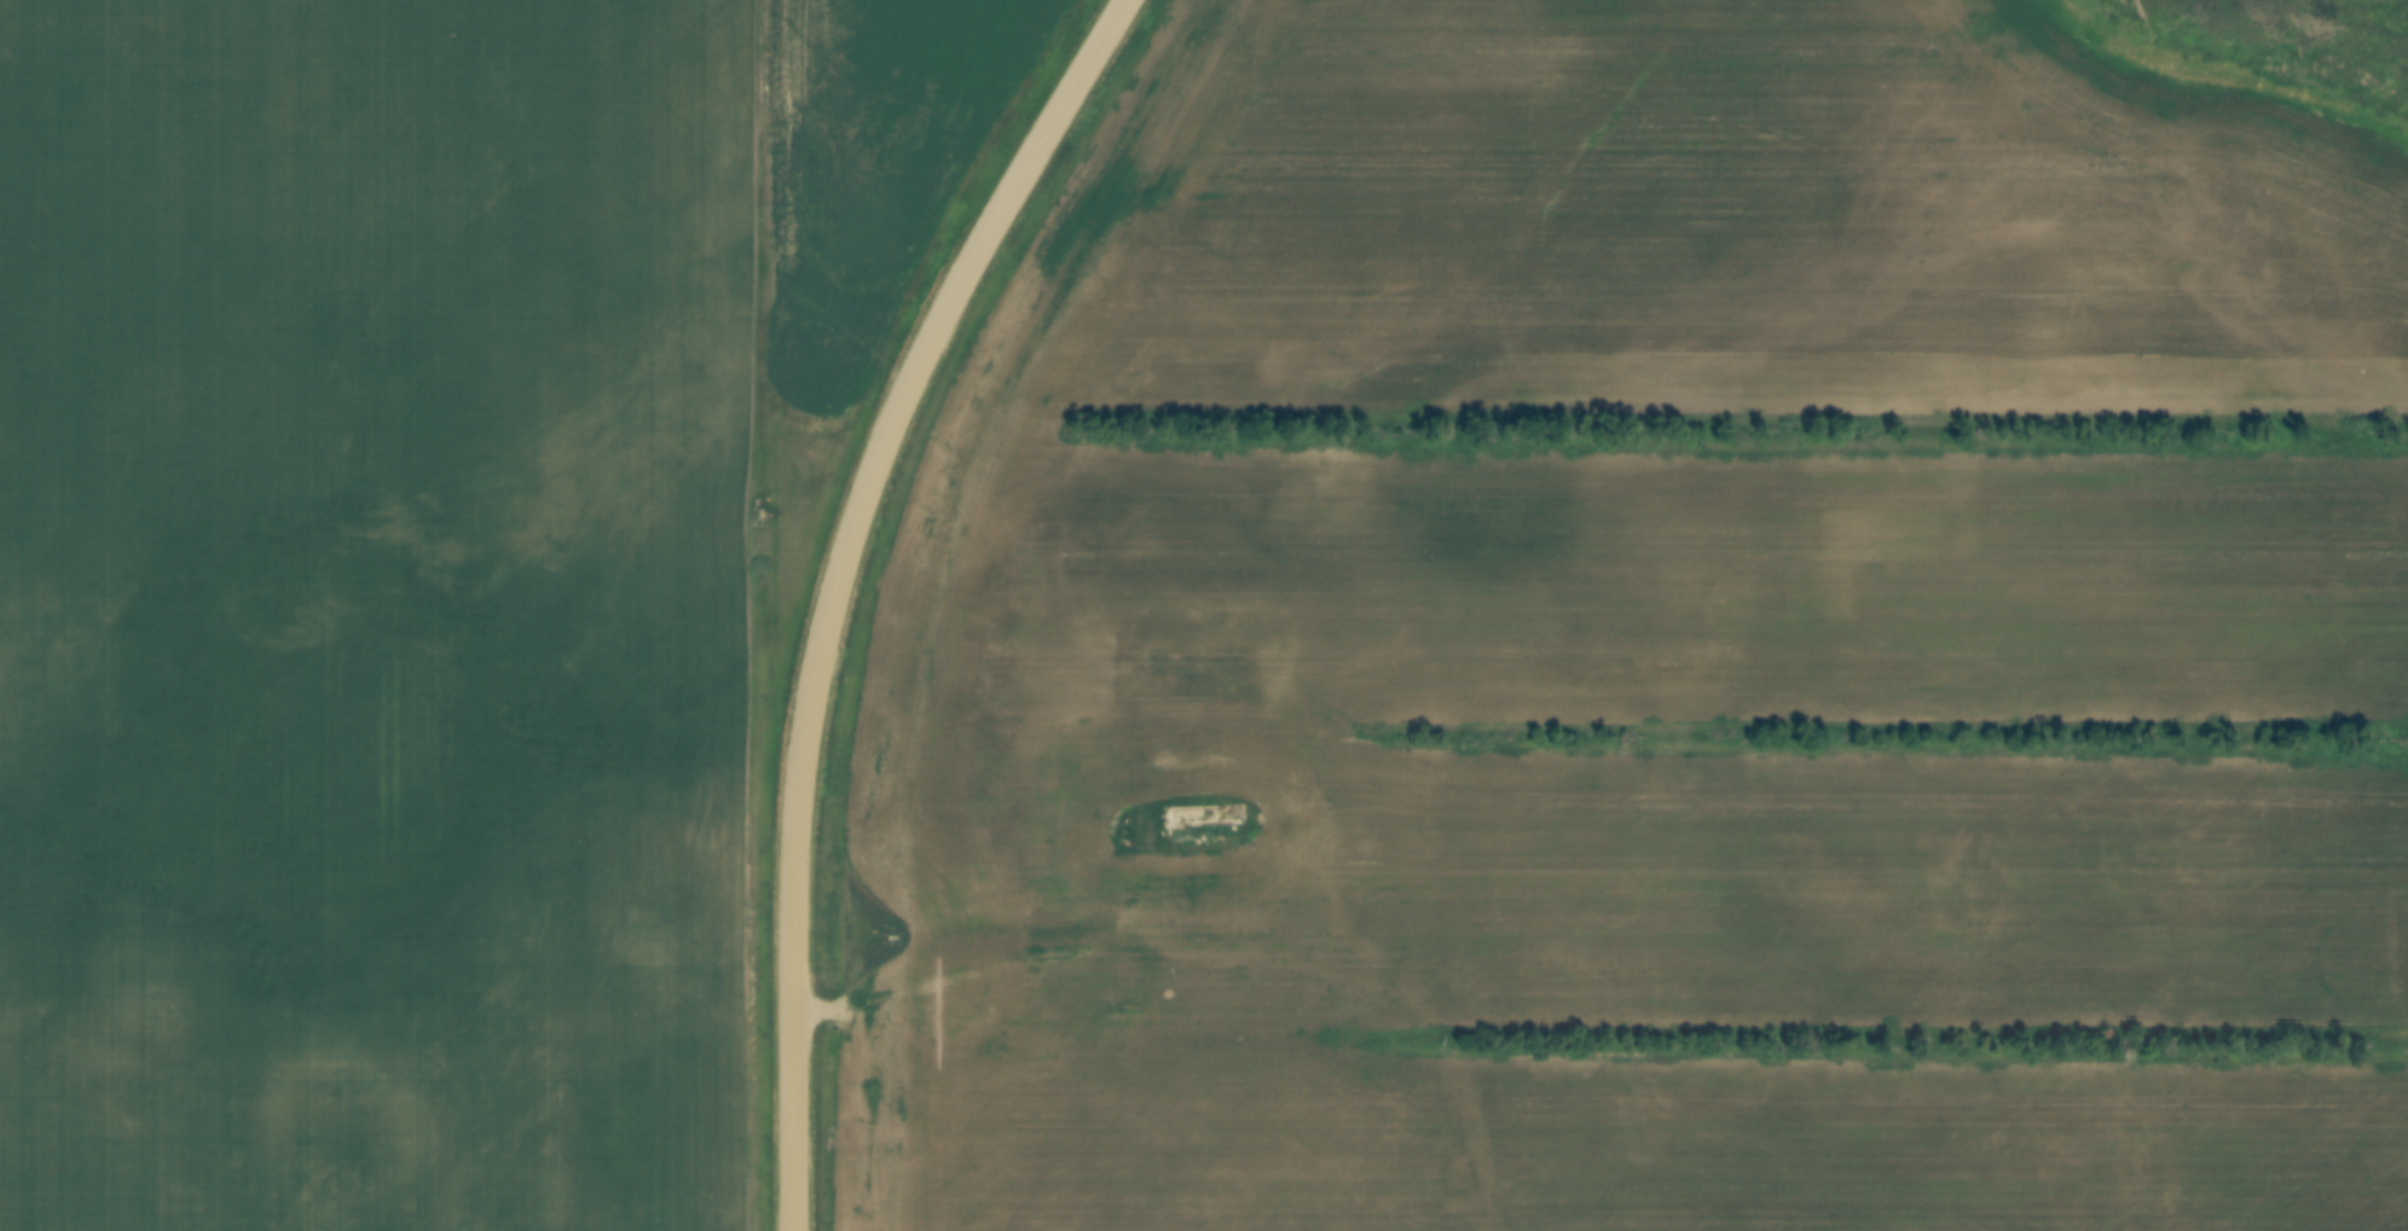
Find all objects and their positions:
road: (834, 581)
road: (997, 970)

